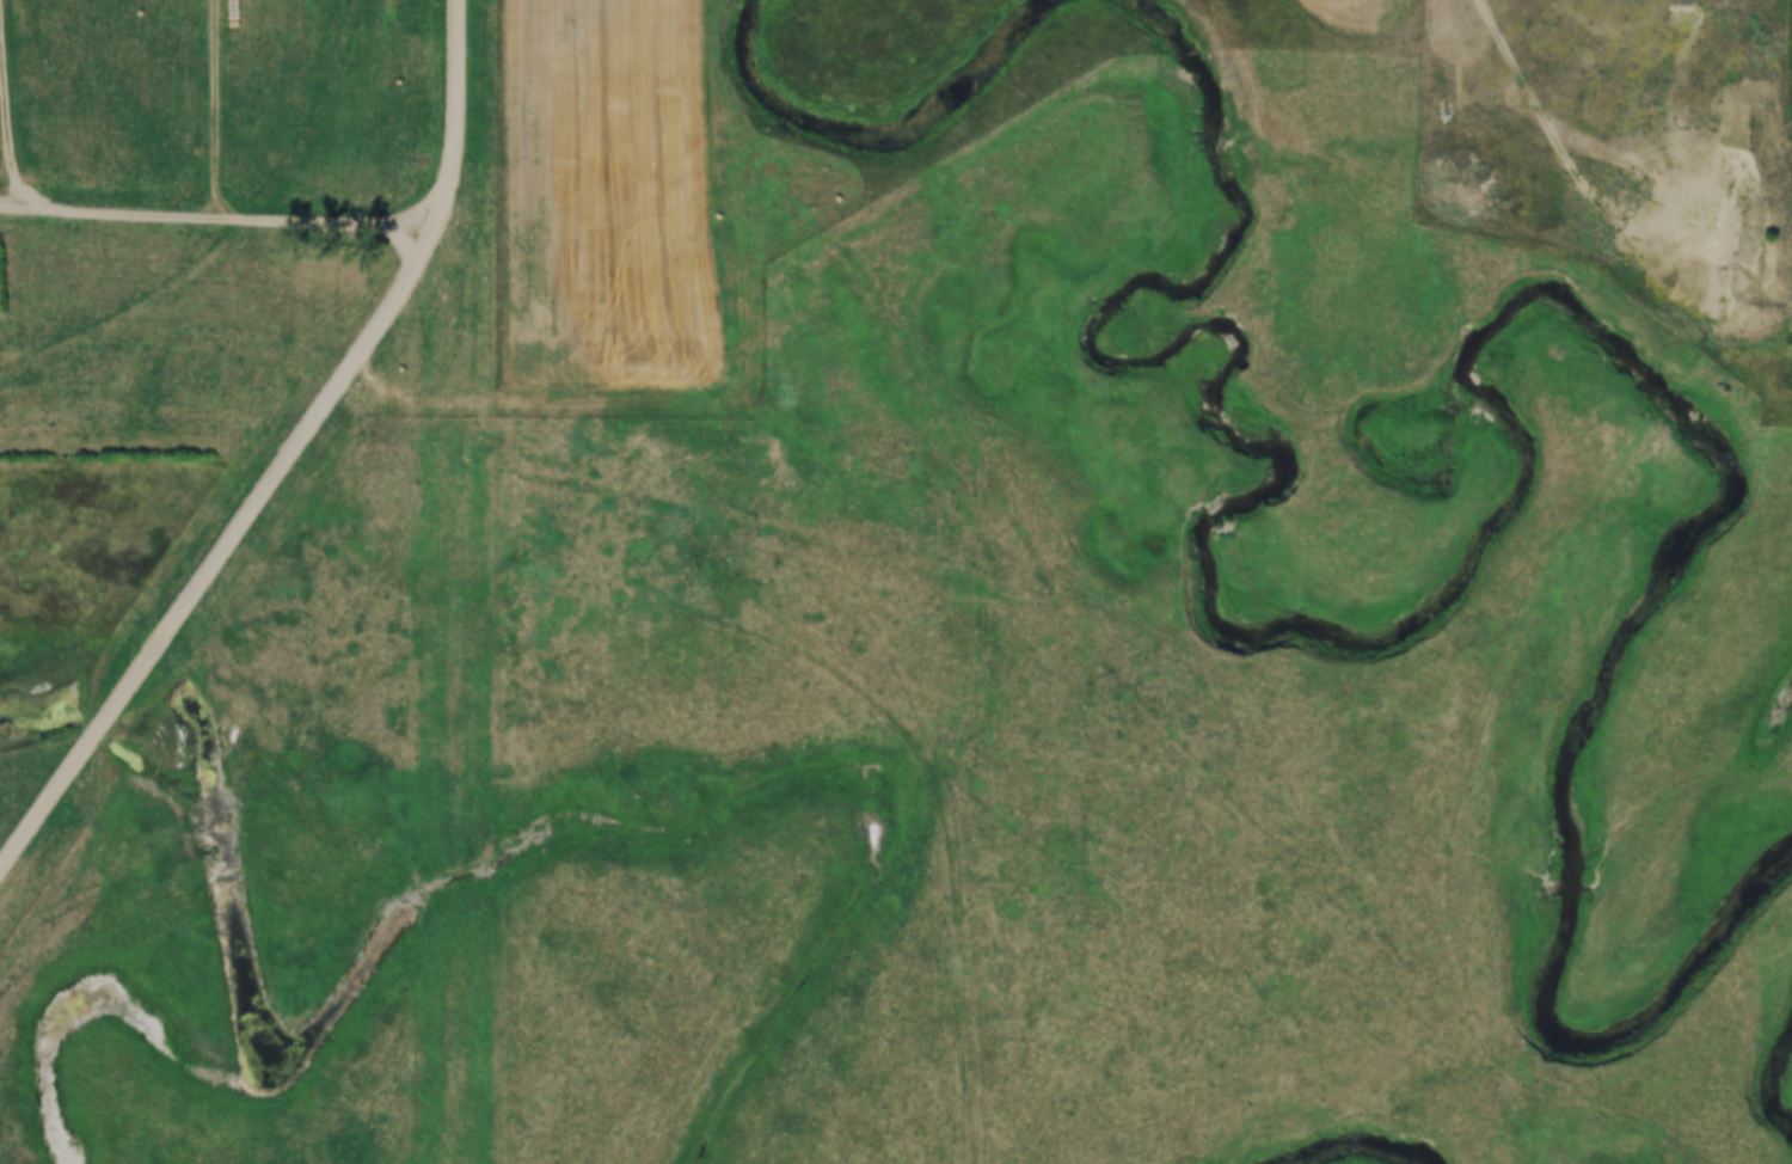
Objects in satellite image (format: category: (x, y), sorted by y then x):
road: (1547, 99)
road: (219, 109)
road: (1, 186)
road: (217, 216)
quarry: (1722, 219)
road: (453, 404)
road: (286, 457)

